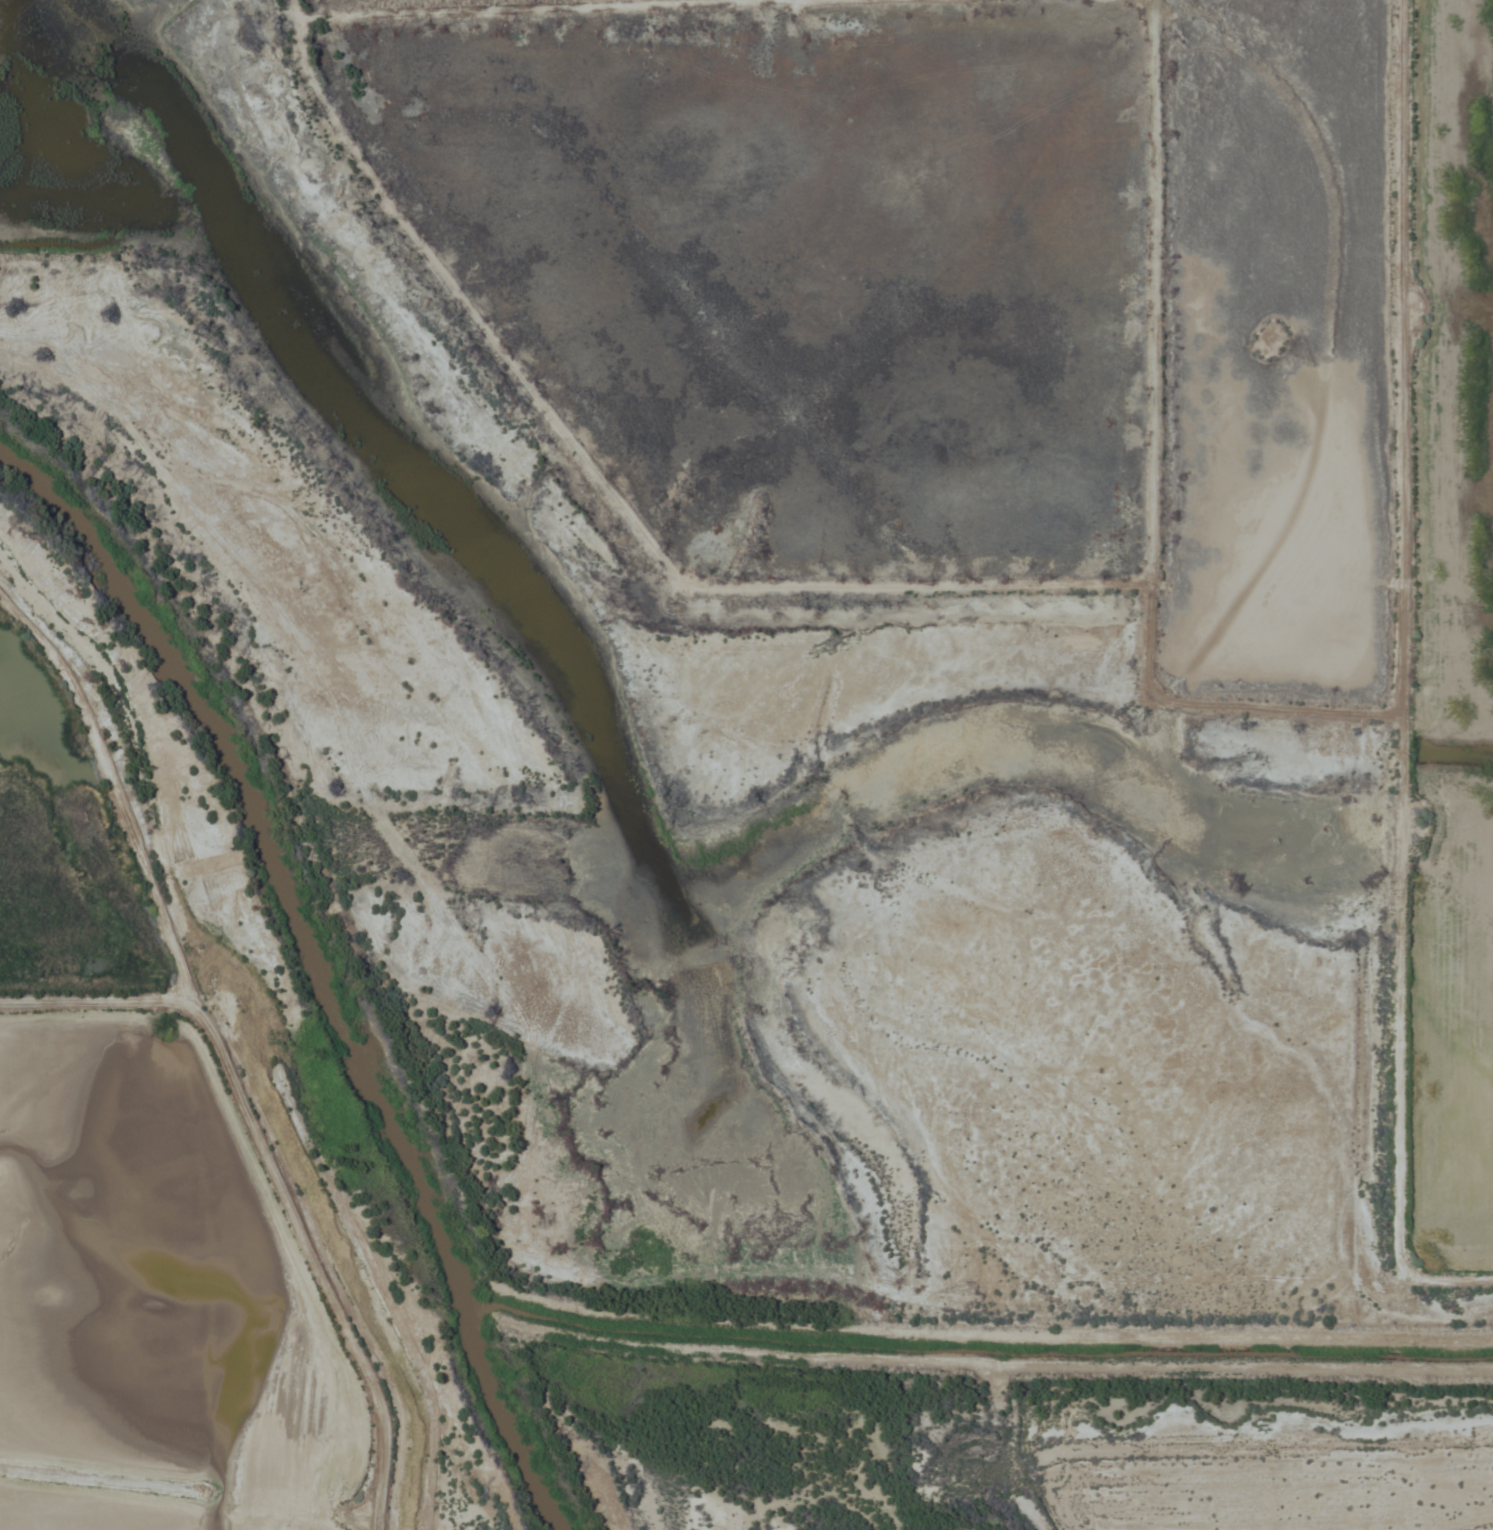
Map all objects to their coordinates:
river: (316, 975)
road: (1269, 1389)
road: (999, 1452)

